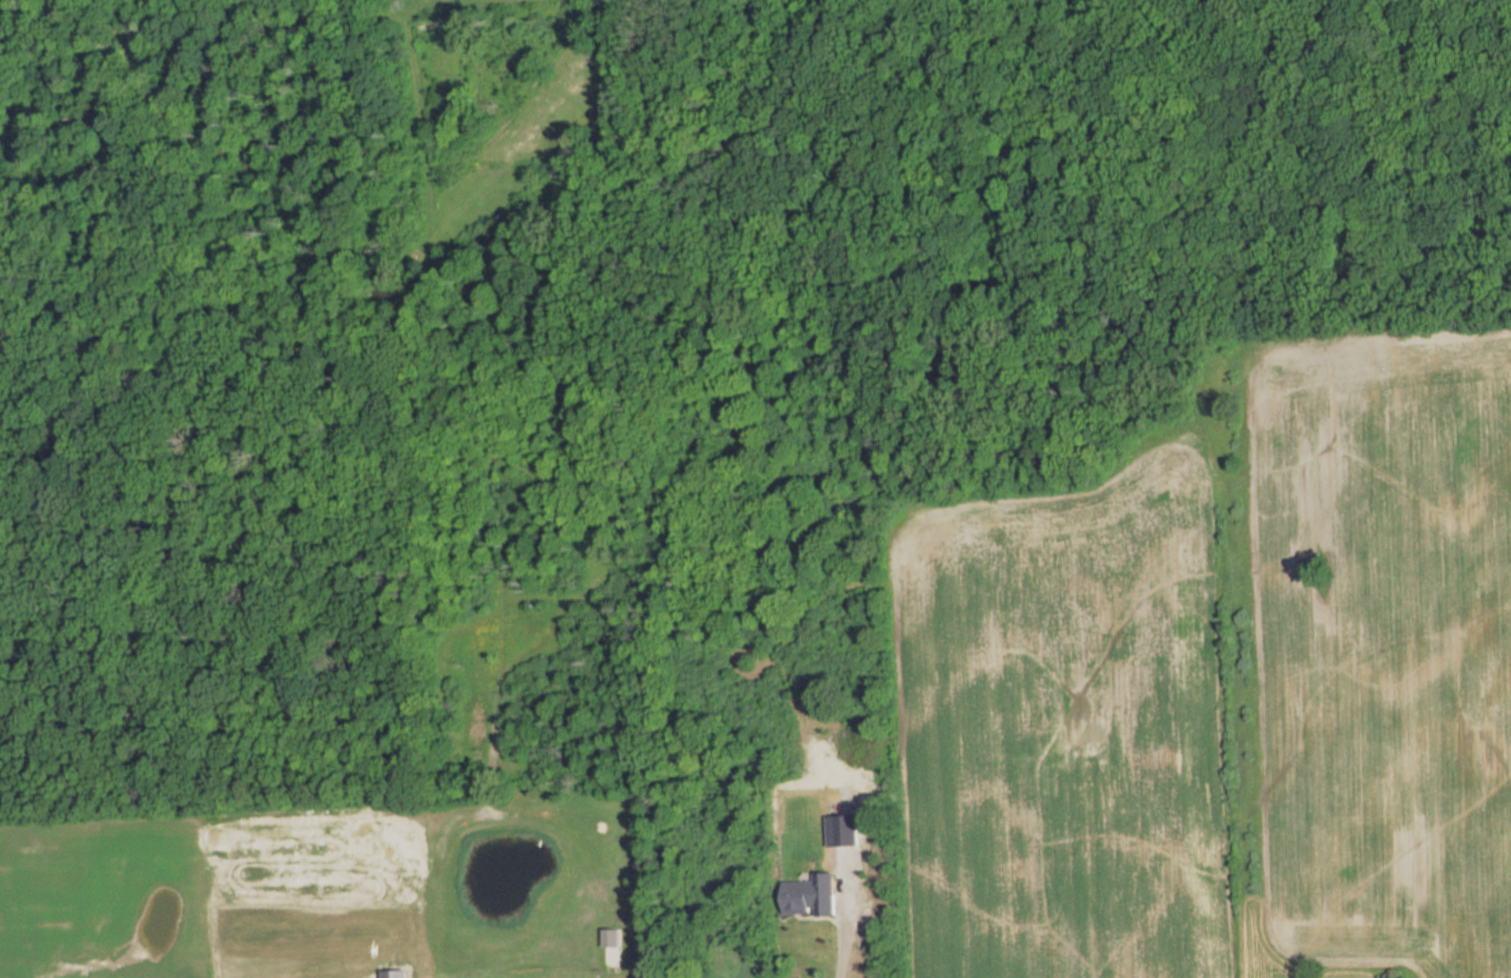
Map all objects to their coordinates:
road: (845, 948)

